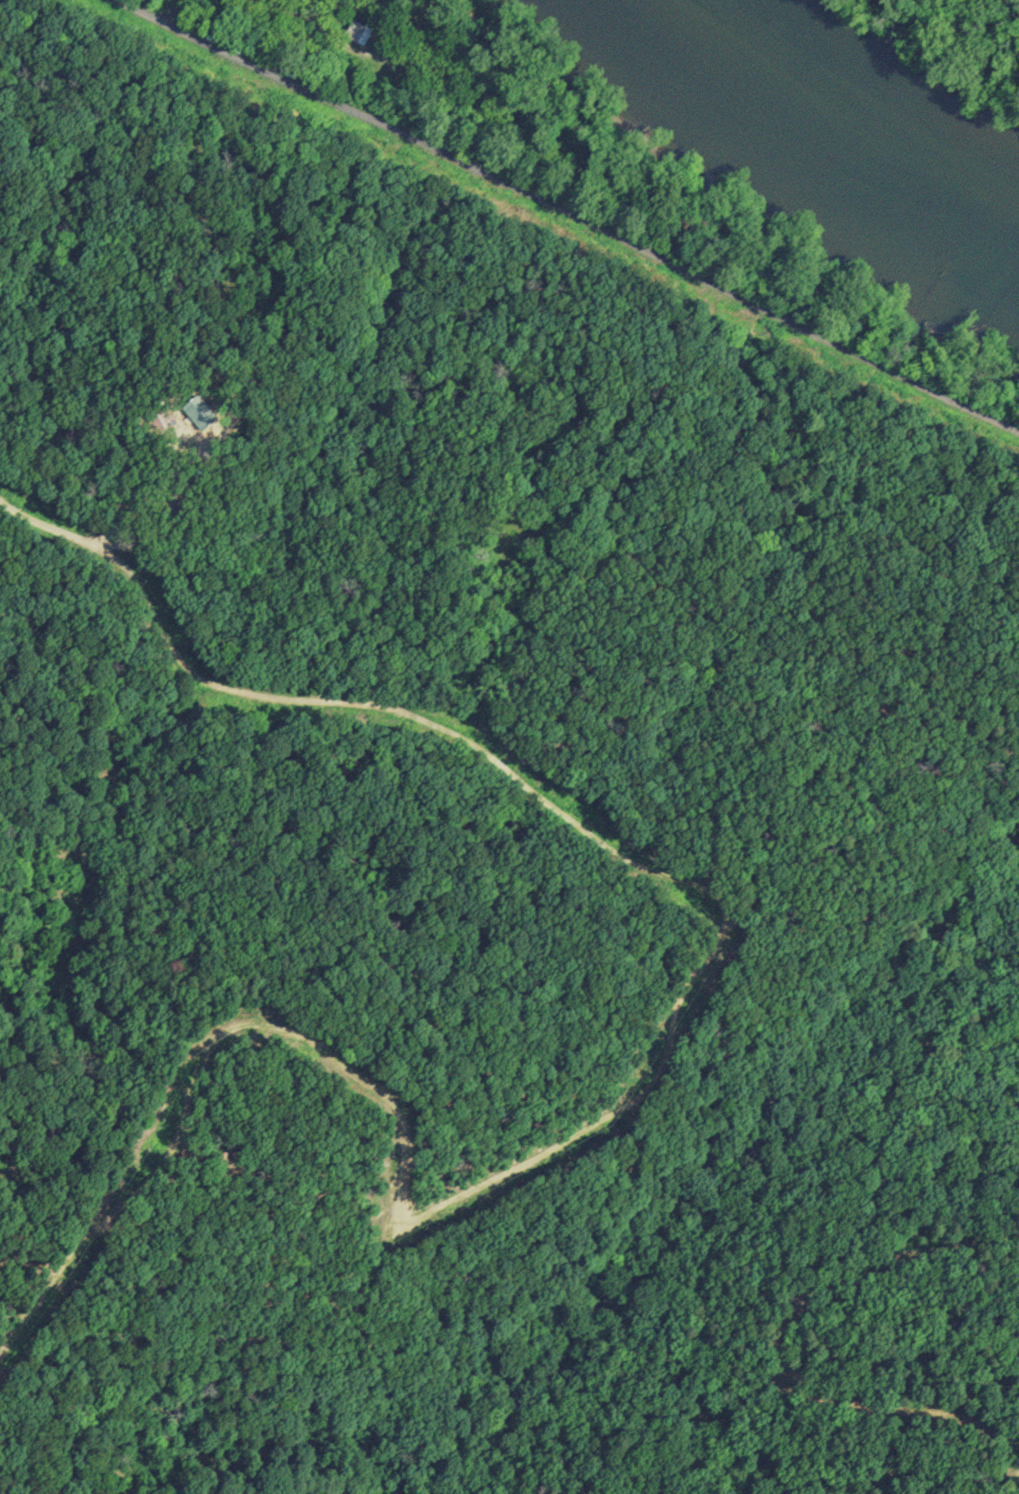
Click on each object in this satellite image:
building: (359, 33)
river: (844, 129)
road: (571, 210)
road: (564, 820)
road: (398, 1113)
road: (782, 1348)

